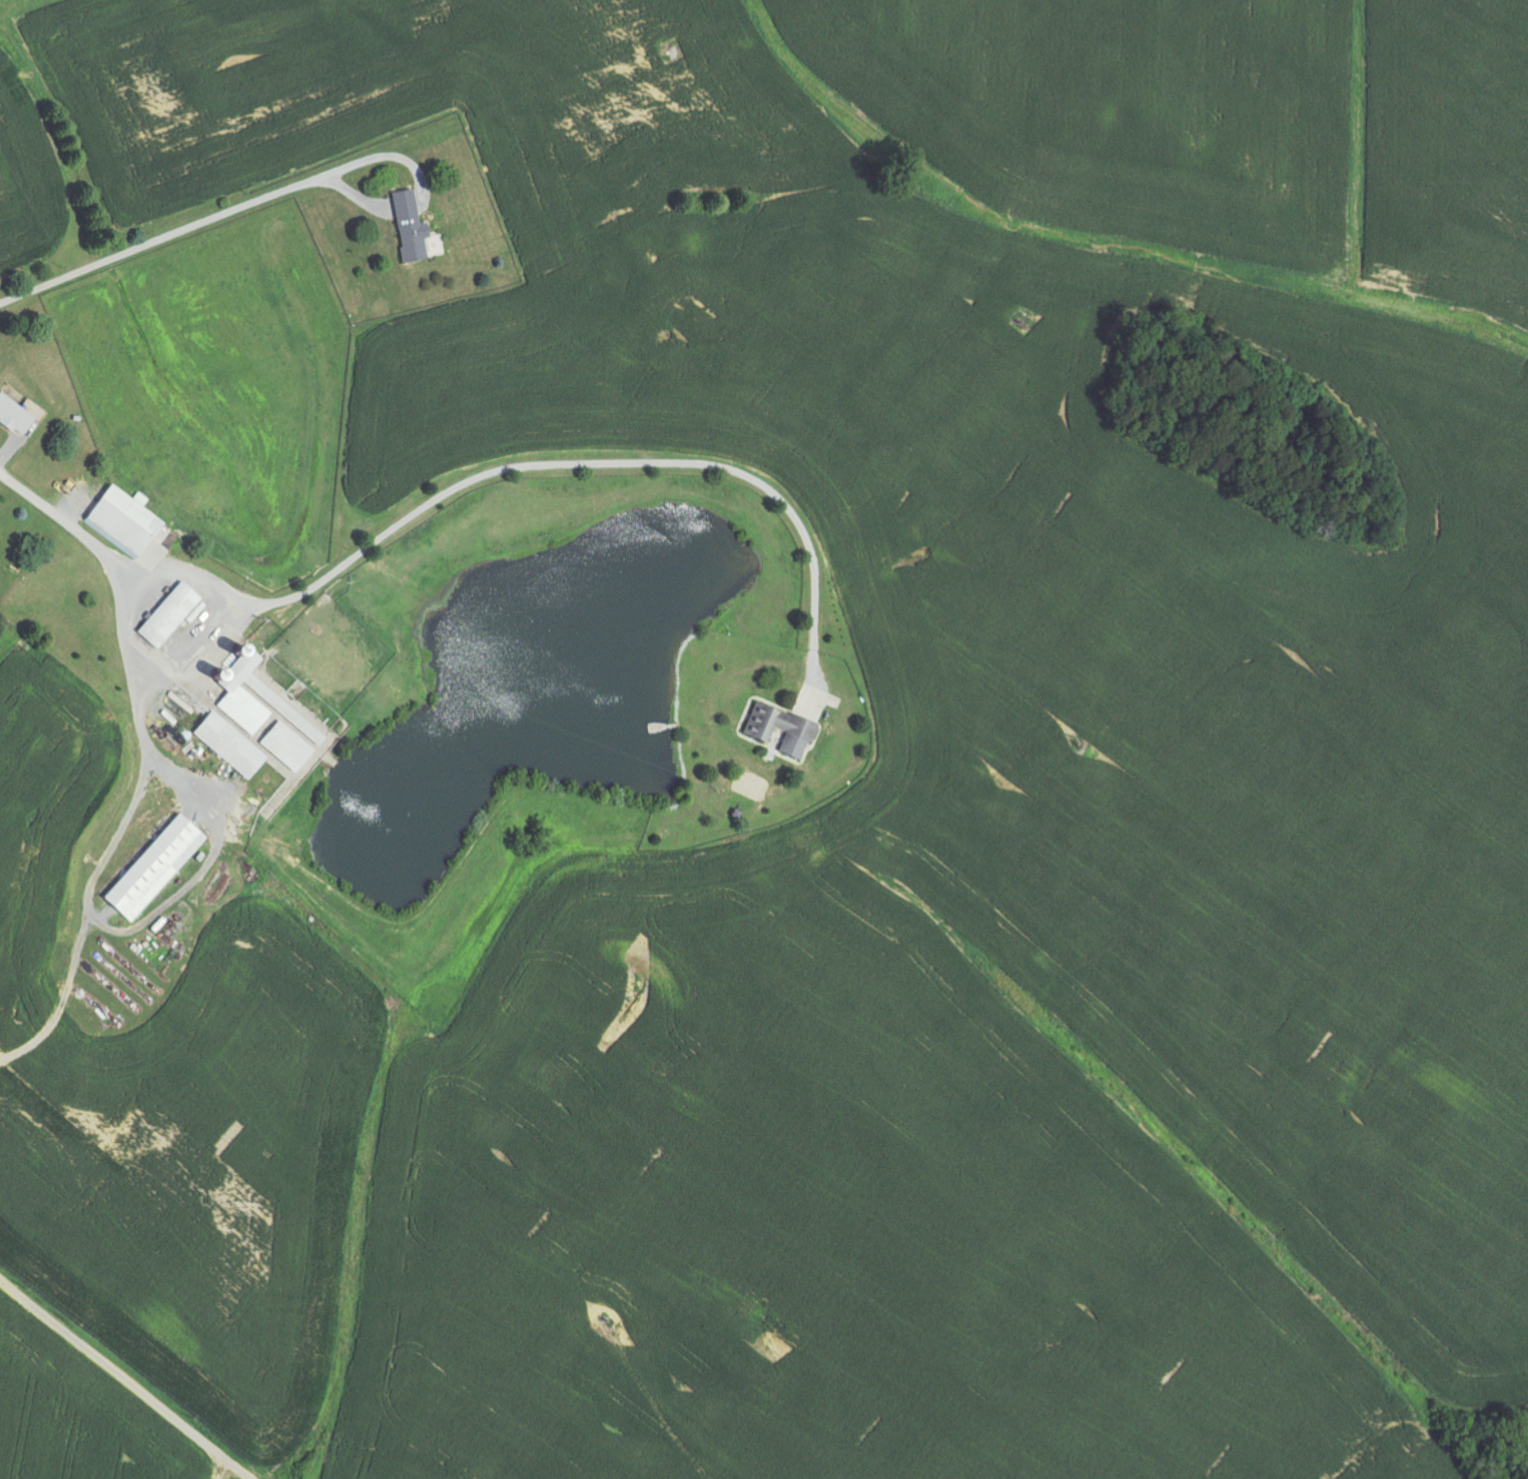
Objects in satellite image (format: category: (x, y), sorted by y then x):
road: (406, 139)
building: (411, 227)
building: (19, 414)
building: (126, 522)
building: (172, 615)
building: (252, 694)
building: (783, 729)
building: (234, 746)
building: (290, 746)
building: (158, 867)
road: (126, 1380)

